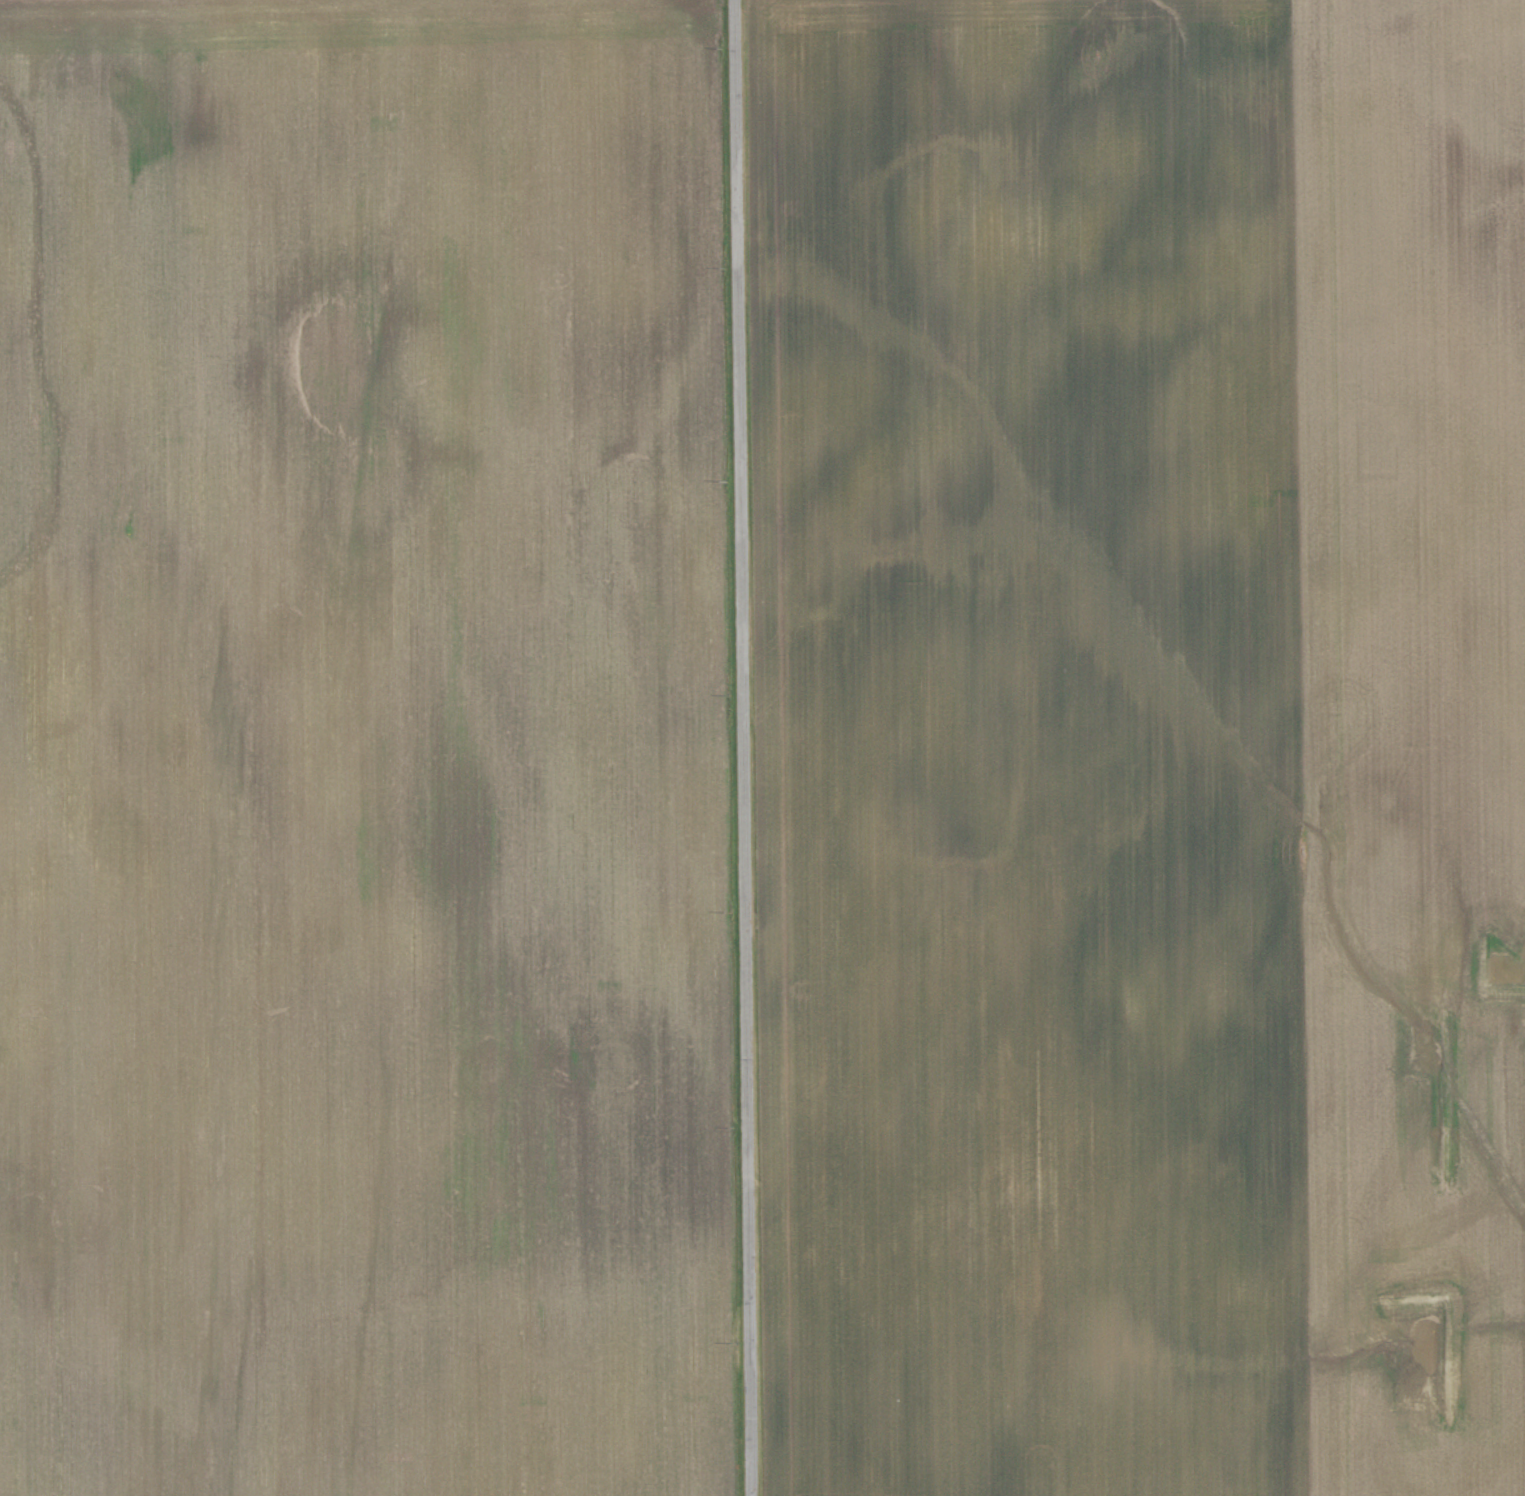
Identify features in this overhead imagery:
road: (742, 747)

